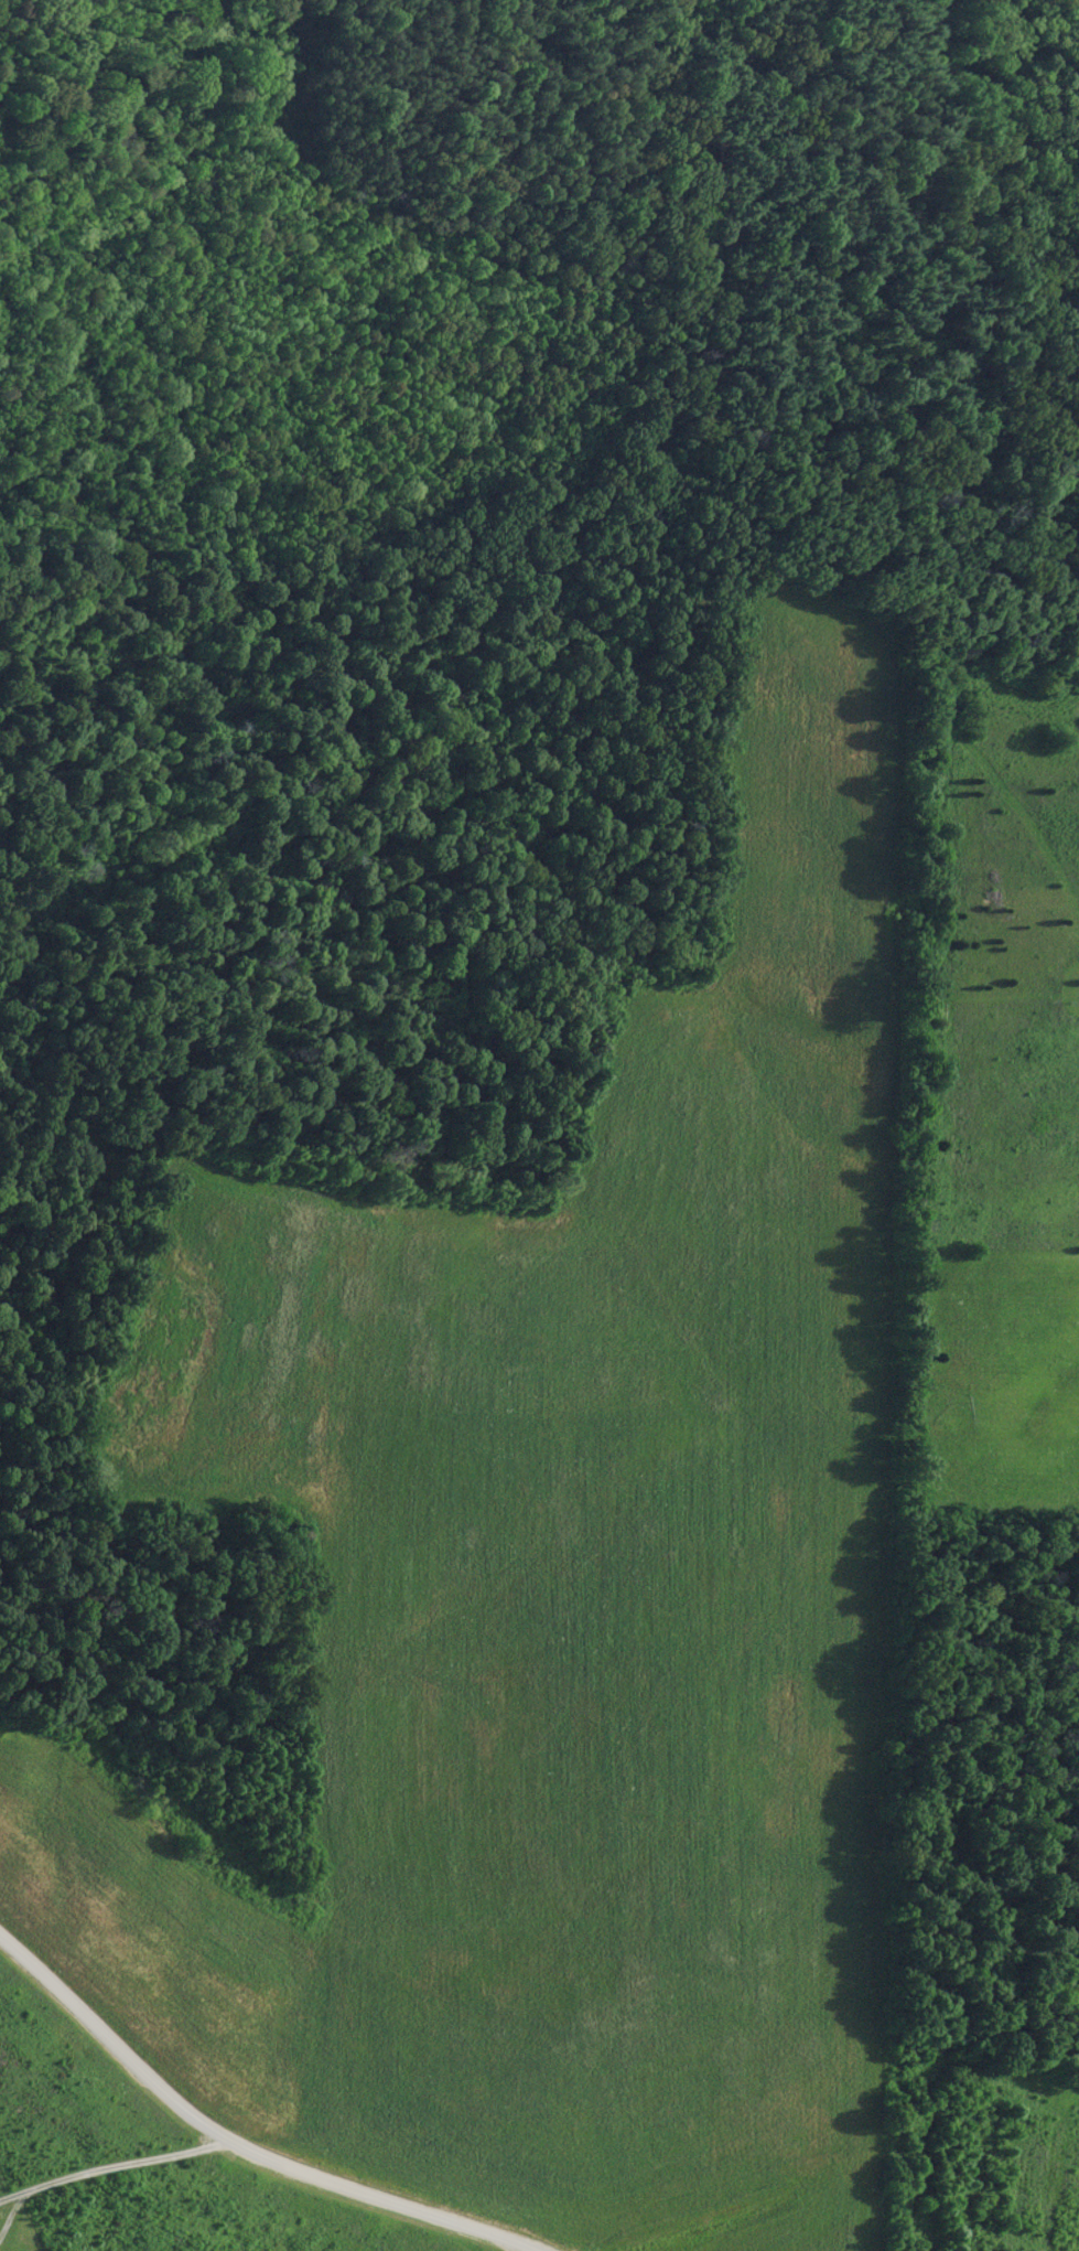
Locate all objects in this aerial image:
road: (240, 2143)

